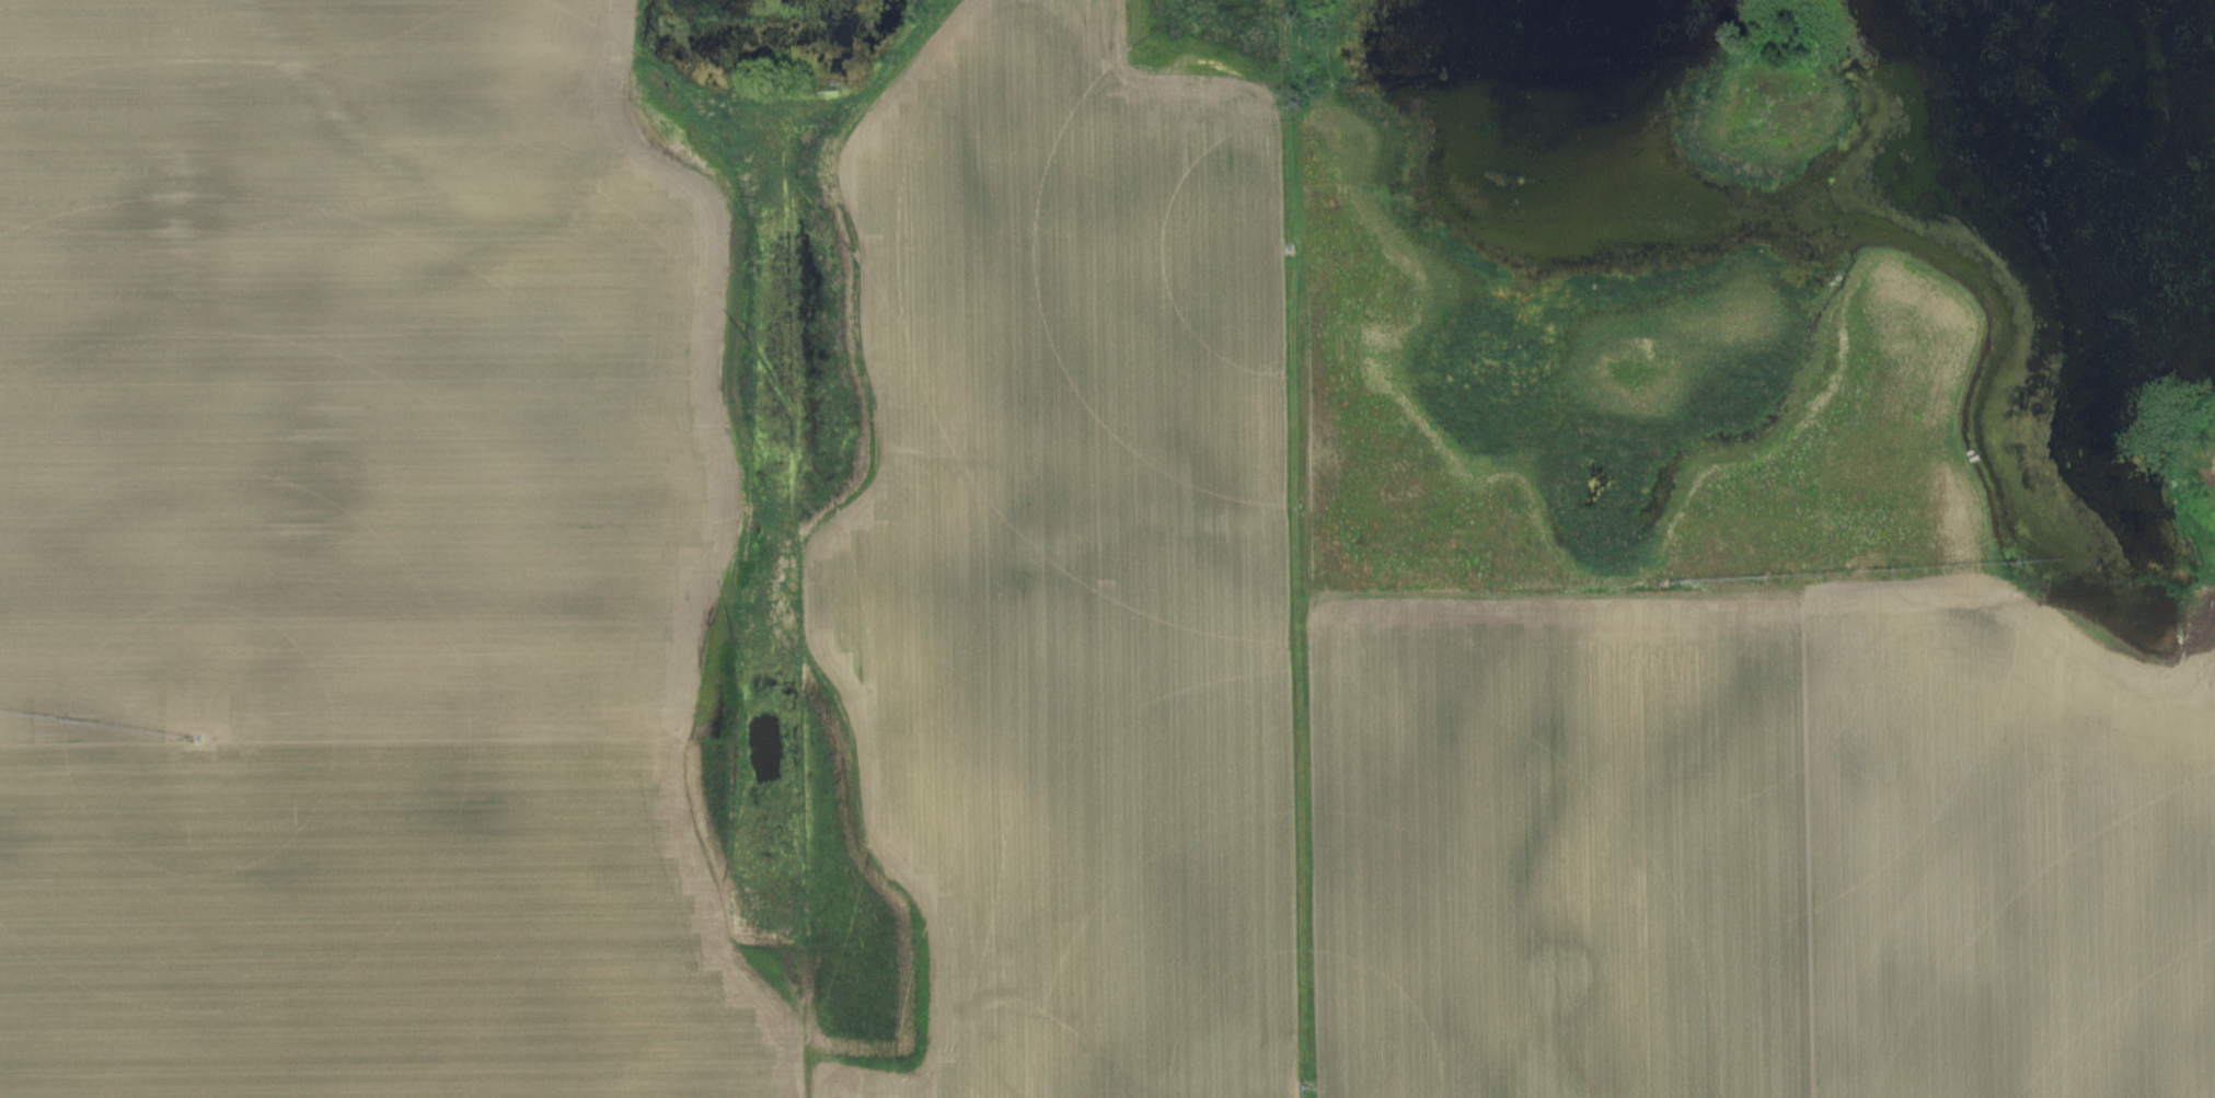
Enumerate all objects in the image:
crop: (338, 373)
crop: (1072, 560)
crop: (2012, 857)
crop: (1567, 858)
crop: (356, 924)
crop: (839, 1086)

